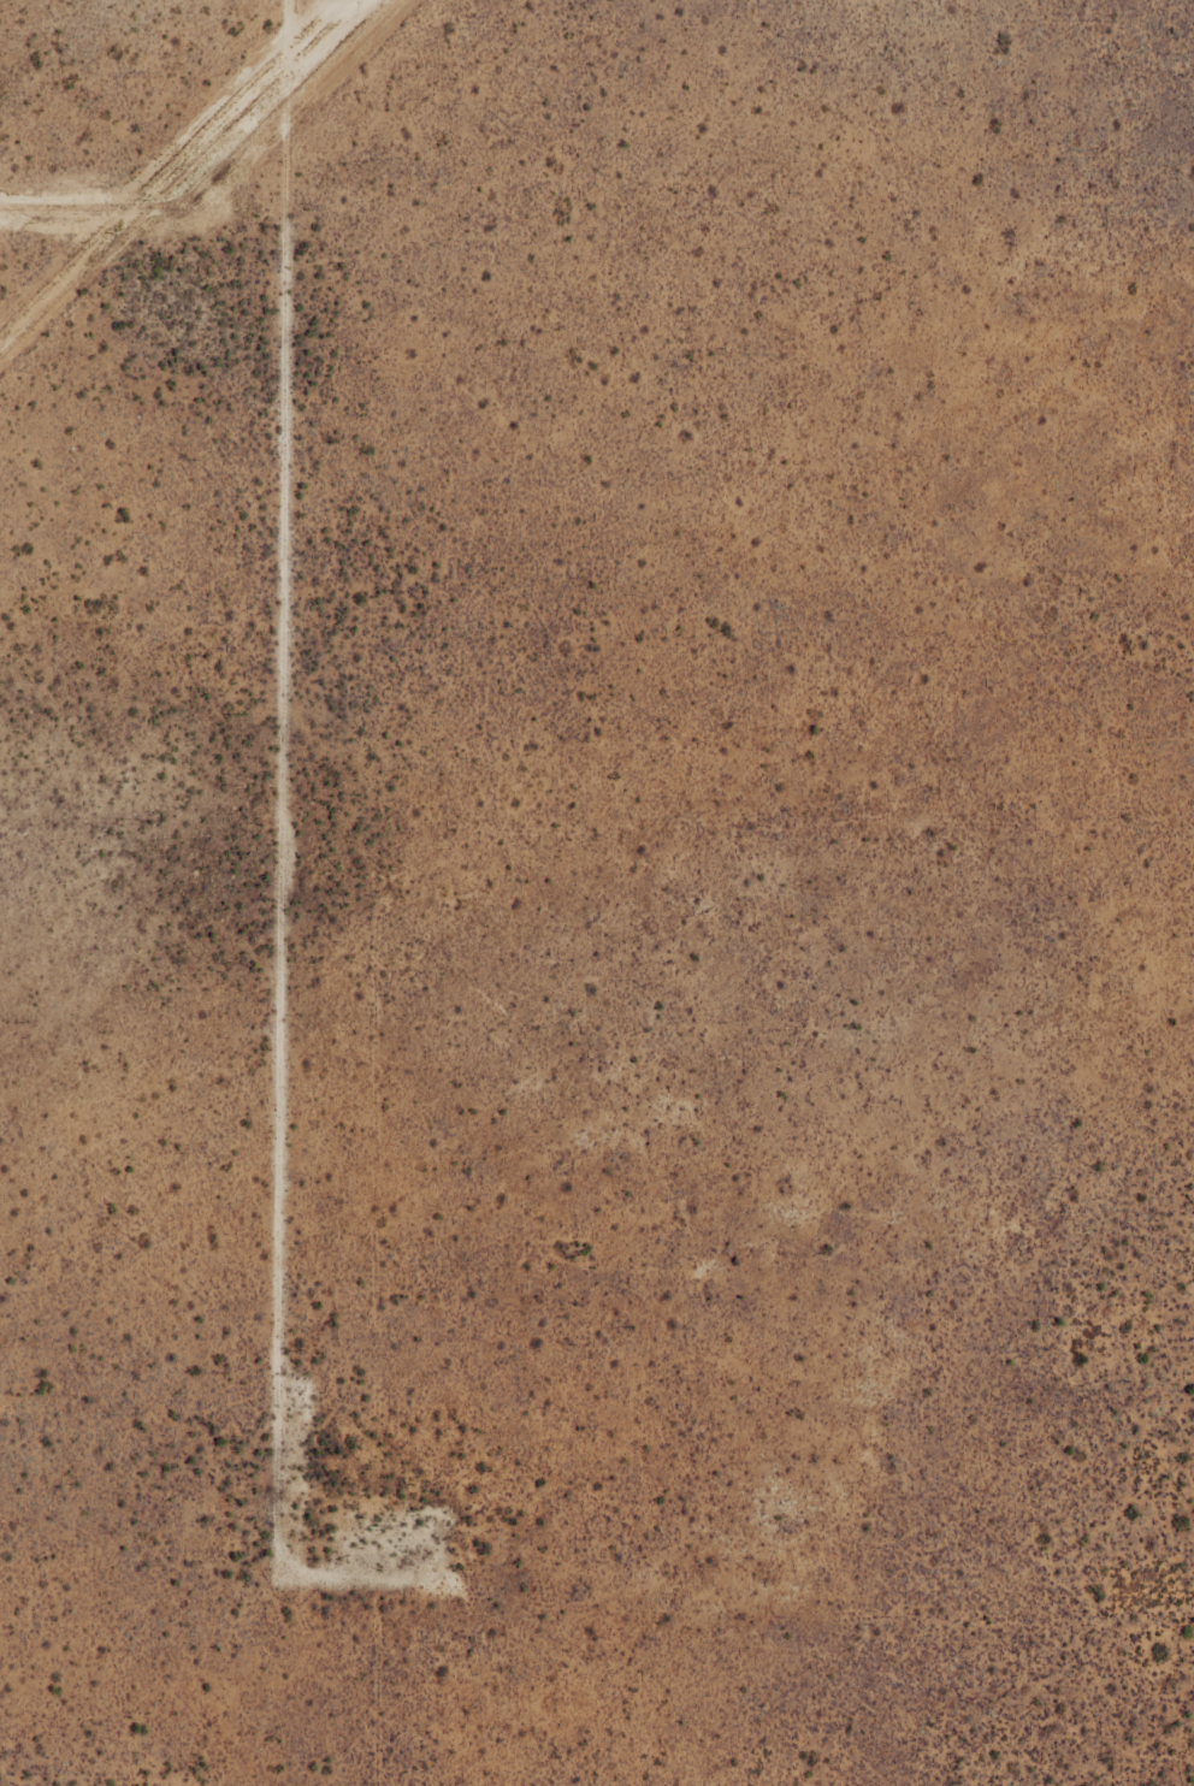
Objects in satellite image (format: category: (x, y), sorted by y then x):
road: (302, 761)

